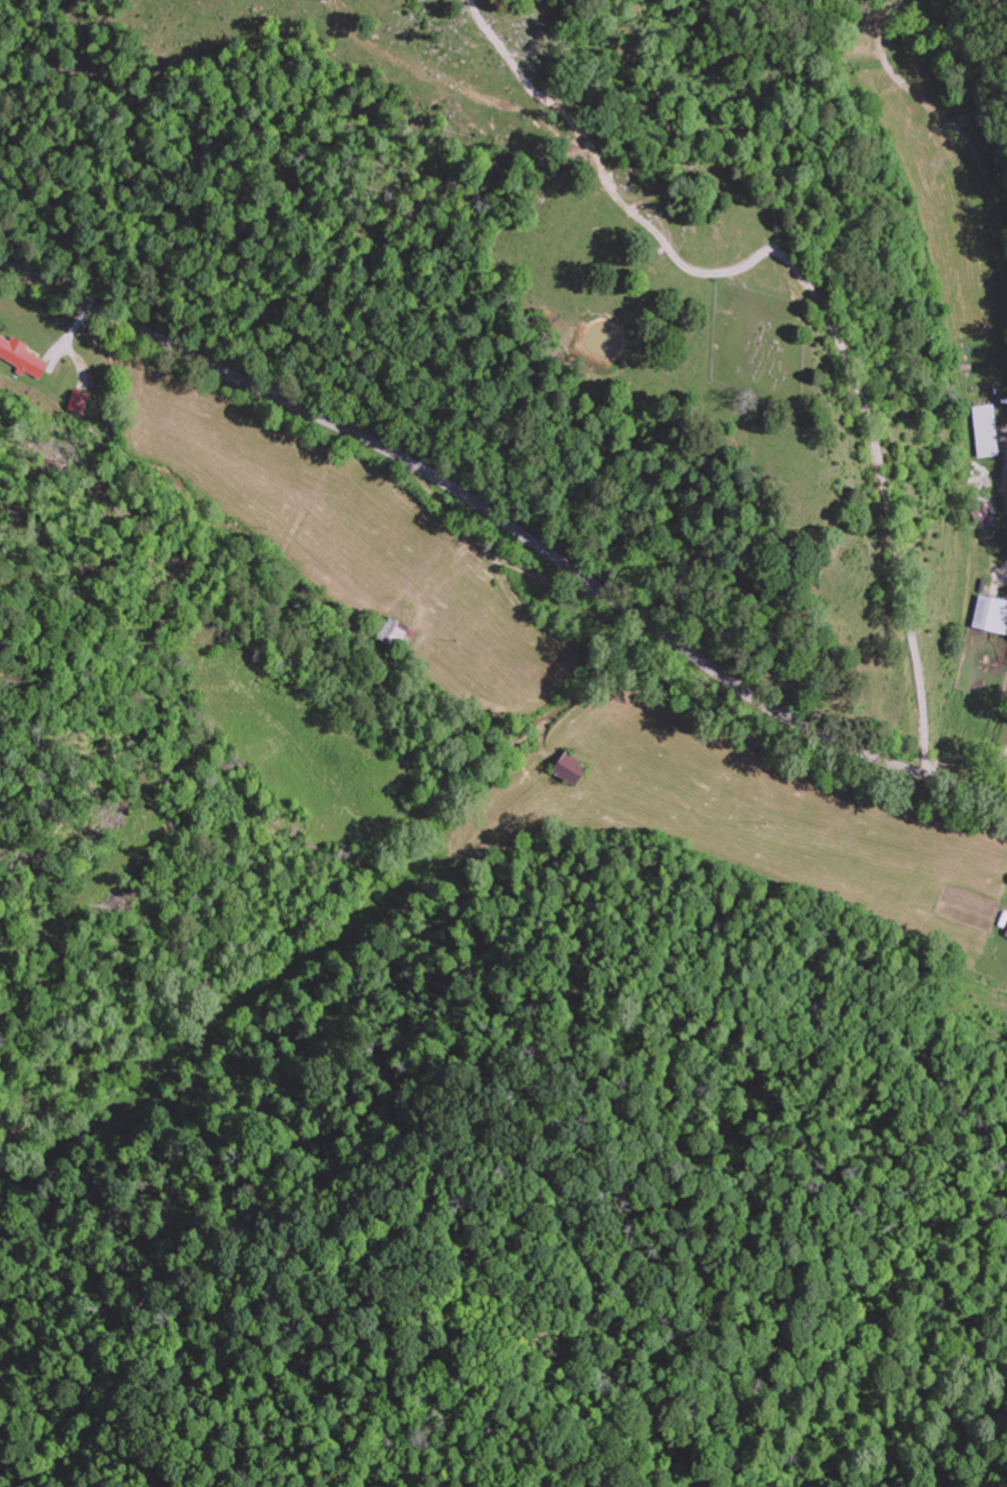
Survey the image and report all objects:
building: (25, 357)
building: (82, 401)
road: (882, 483)
building: (988, 514)
road: (508, 525)
building: (993, 614)
building: (397, 630)
building: (578, 769)

